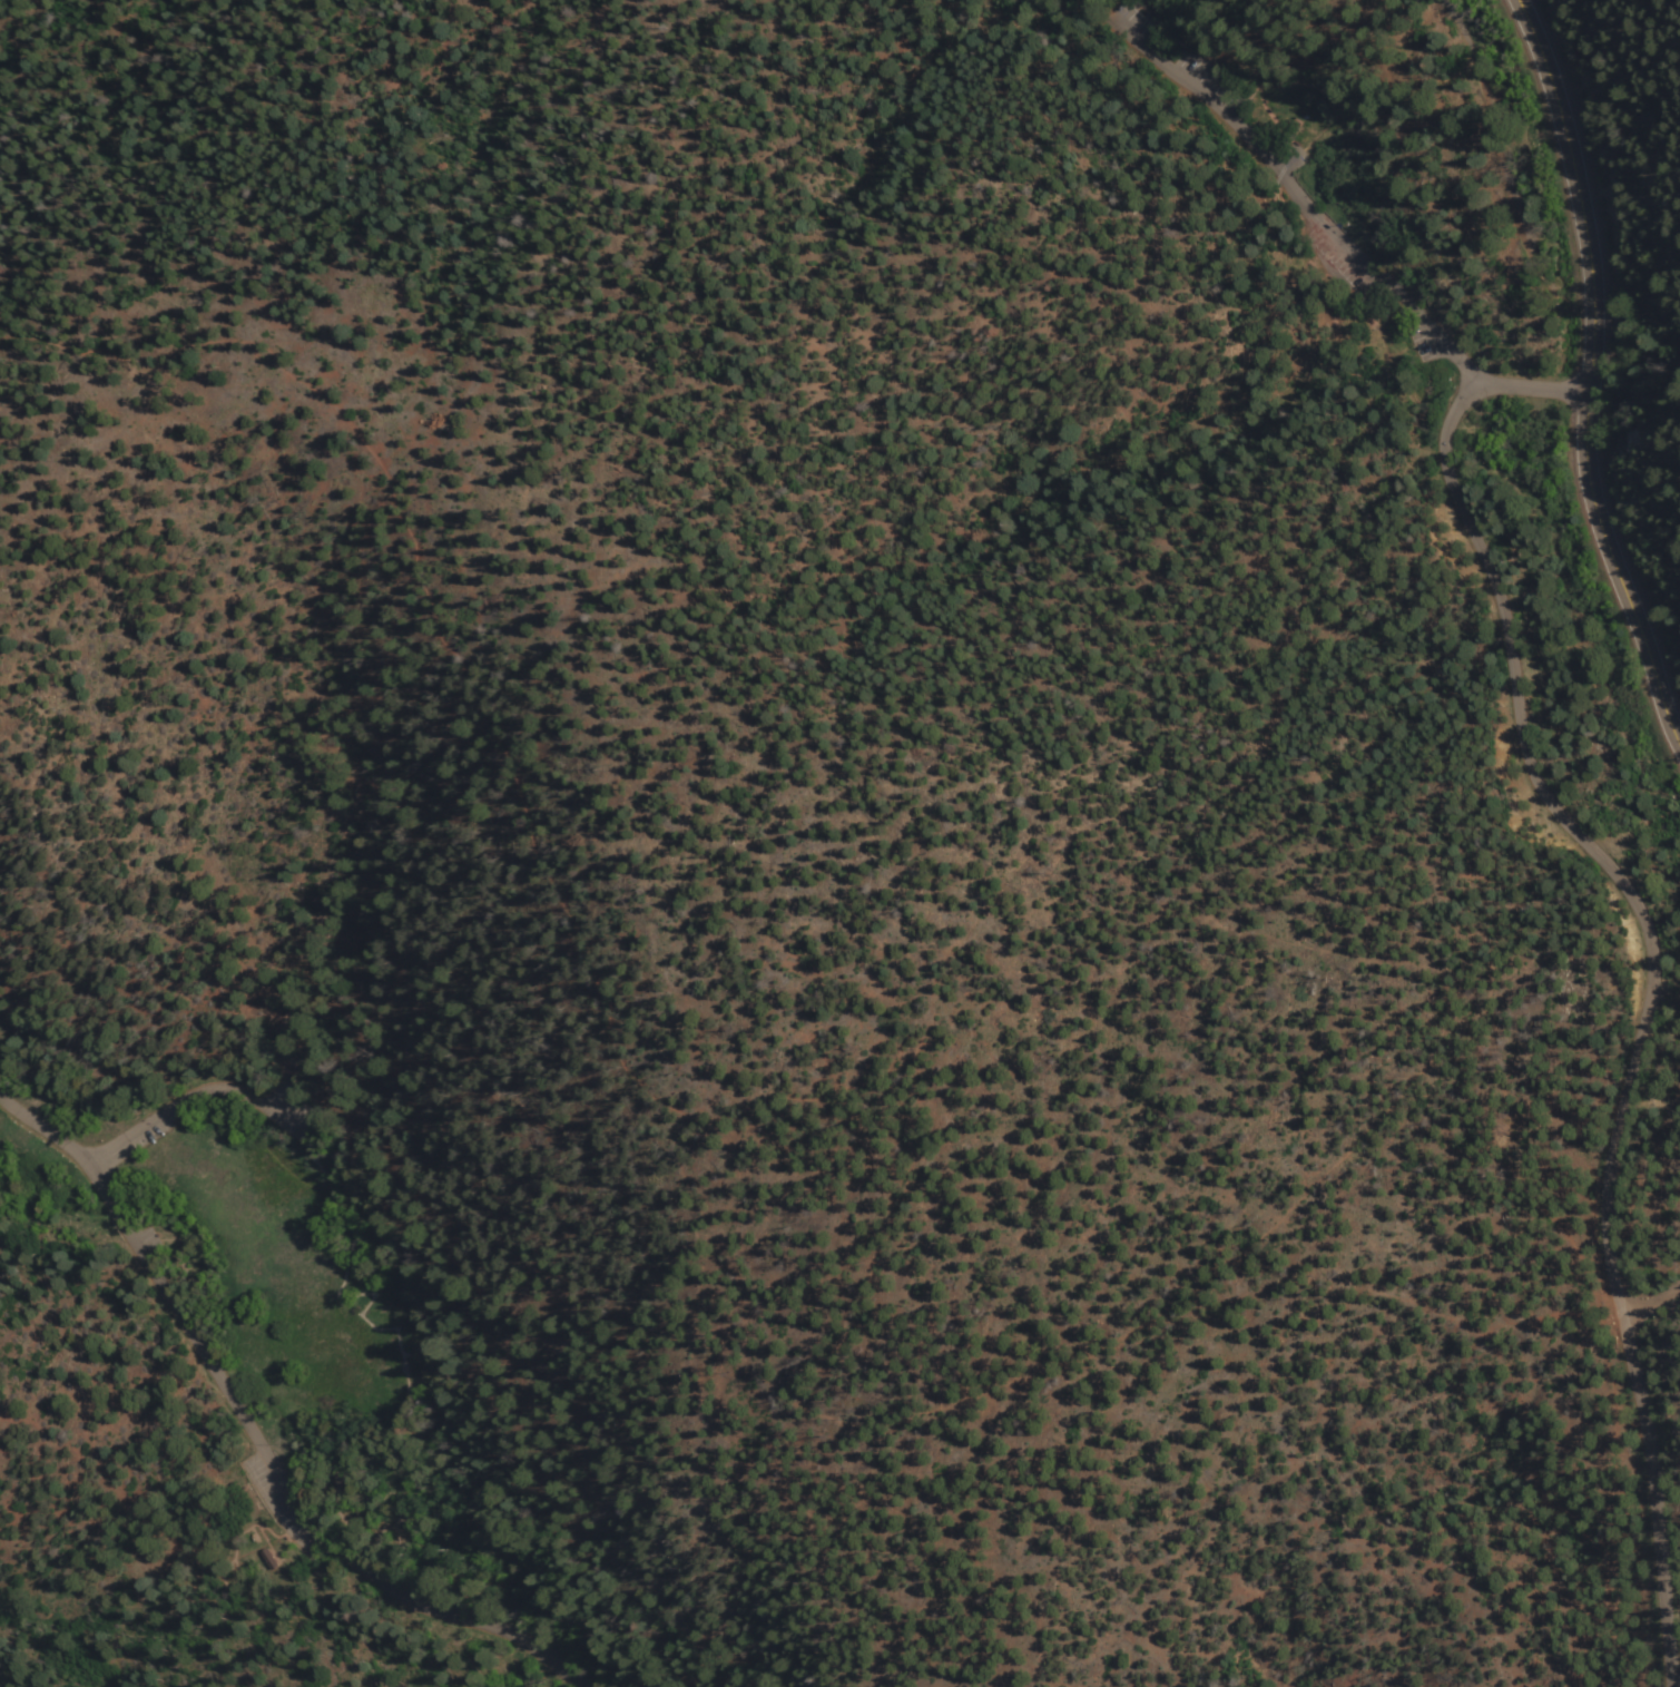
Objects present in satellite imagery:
road: (1100, 7)
parking lot: (1133, 20)
road: (1169, 36)
parking lot: (1209, 84)
road: (1310, 85)
road: (1397, 88)
road: (1497, 110)
parking lot: (1291, 160)
road: (1300, 190)
road: (1559, 247)
parking lot: (1340, 255)
parking lot: (1426, 344)
road: (1588, 379)
road: (1656, 952)
road: (88, 1082)
road: (196, 1096)
parking lot: (288, 1111)
parking lot: (143, 1137)
road: (352, 1190)
road: (893, 1209)
parking lot: (149, 1239)
road: (362, 1292)
road: (1652, 1296)
road: (419, 1353)
road: (444, 1363)
road: (405, 1380)
road: (396, 1420)
road: (257, 1432)
road: (380, 1445)
road: (363, 1464)
parking lot: (288, 1502)
road: (460, 1526)
road: (350, 1527)
road: (1580, 1528)
road: (439, 1537)
road: (419, 1547)
road: (226, 1549)
road: (581, 1593)

